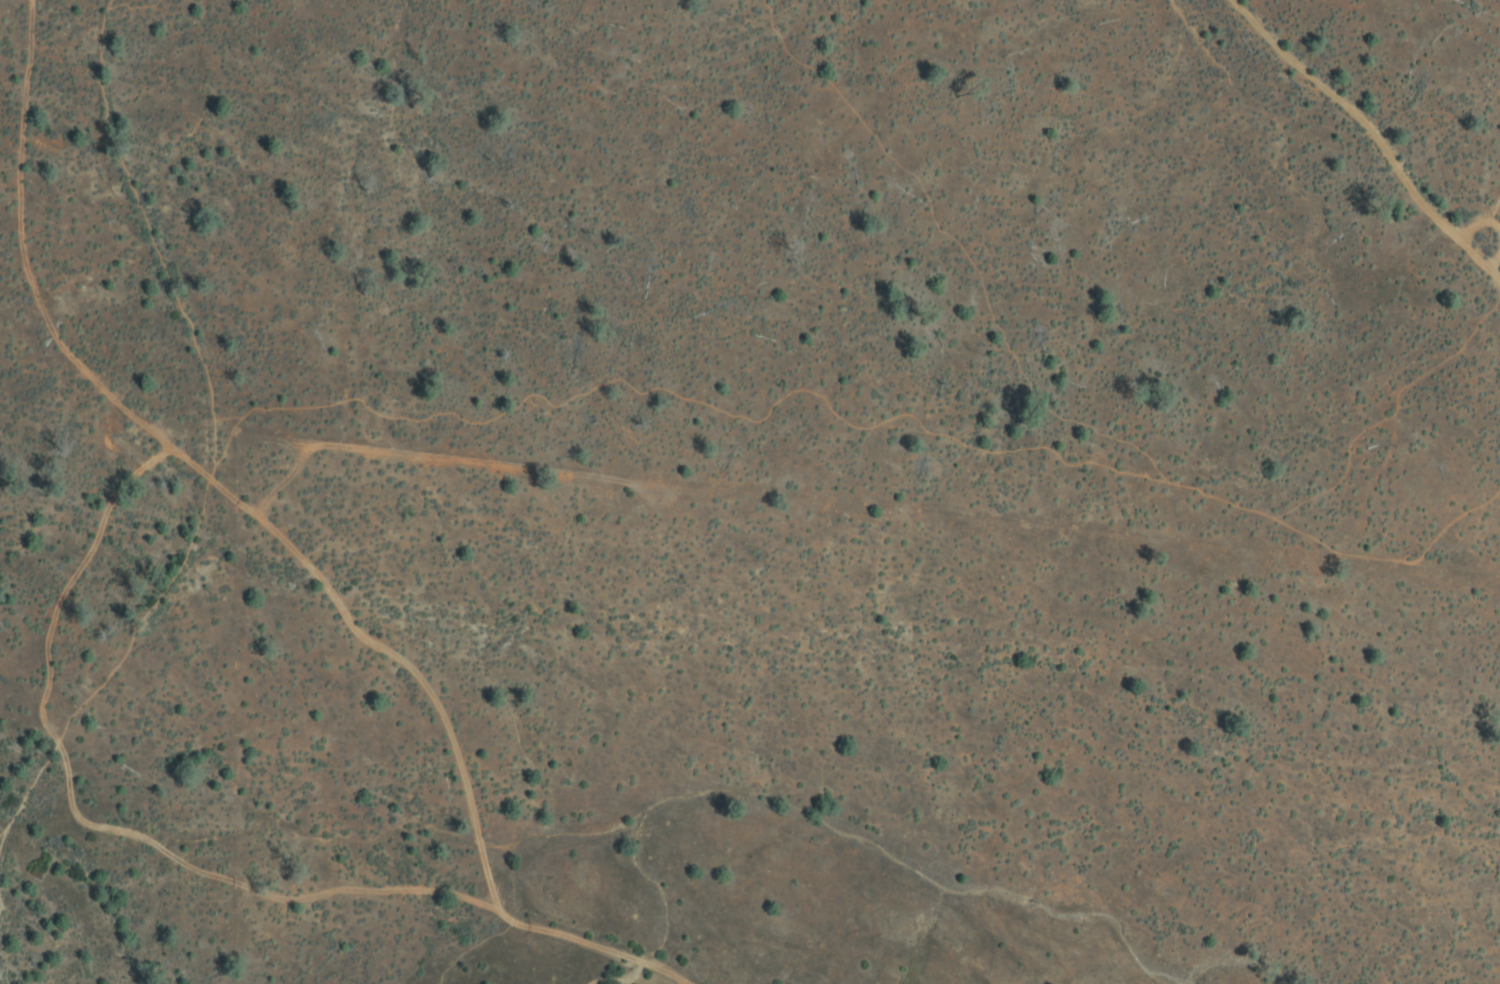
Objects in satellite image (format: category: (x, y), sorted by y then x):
road: (1374, 131)
road: (1481, 220)
road: (1409, 390)
road: (743, 418)
road: (212, 474)
road: (1308, 540)
road: (152, 615)
road: (25, 788)
road: (91, 827)
road: (593, 944)

